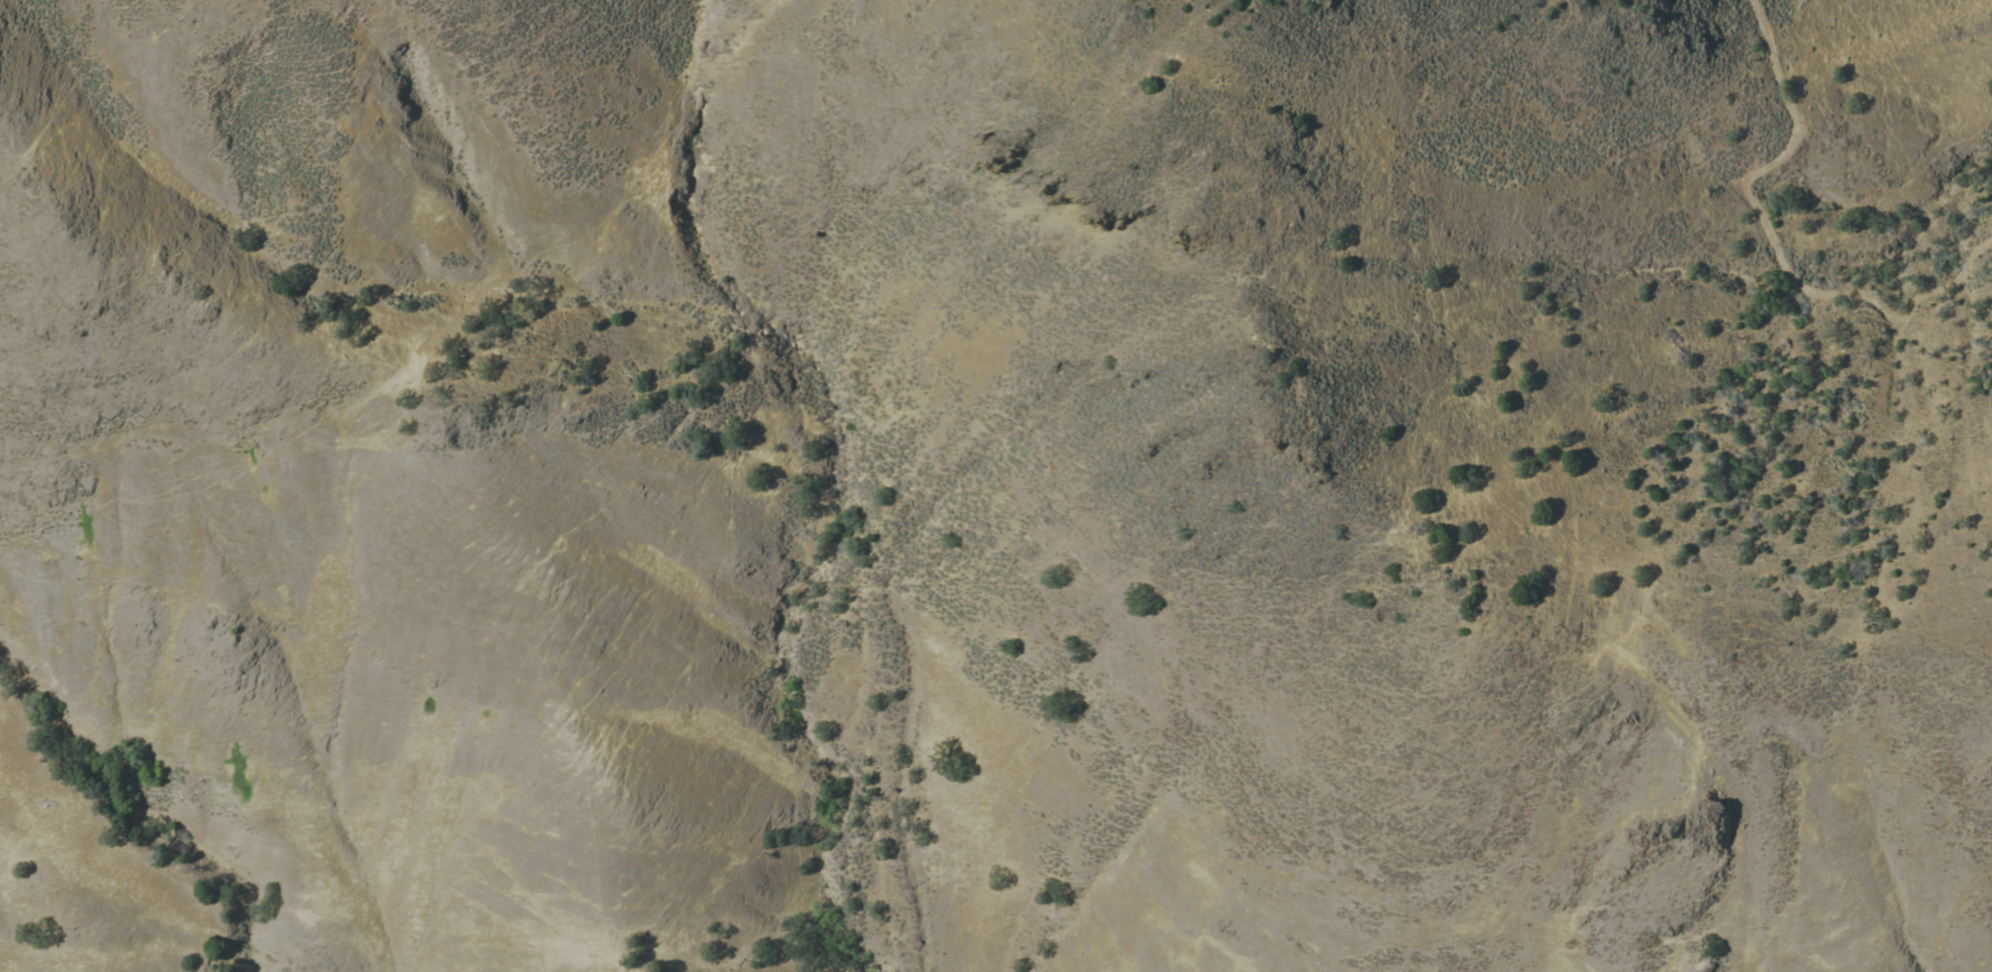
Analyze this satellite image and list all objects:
road: (1755, 171)
road: (1931, 291)

